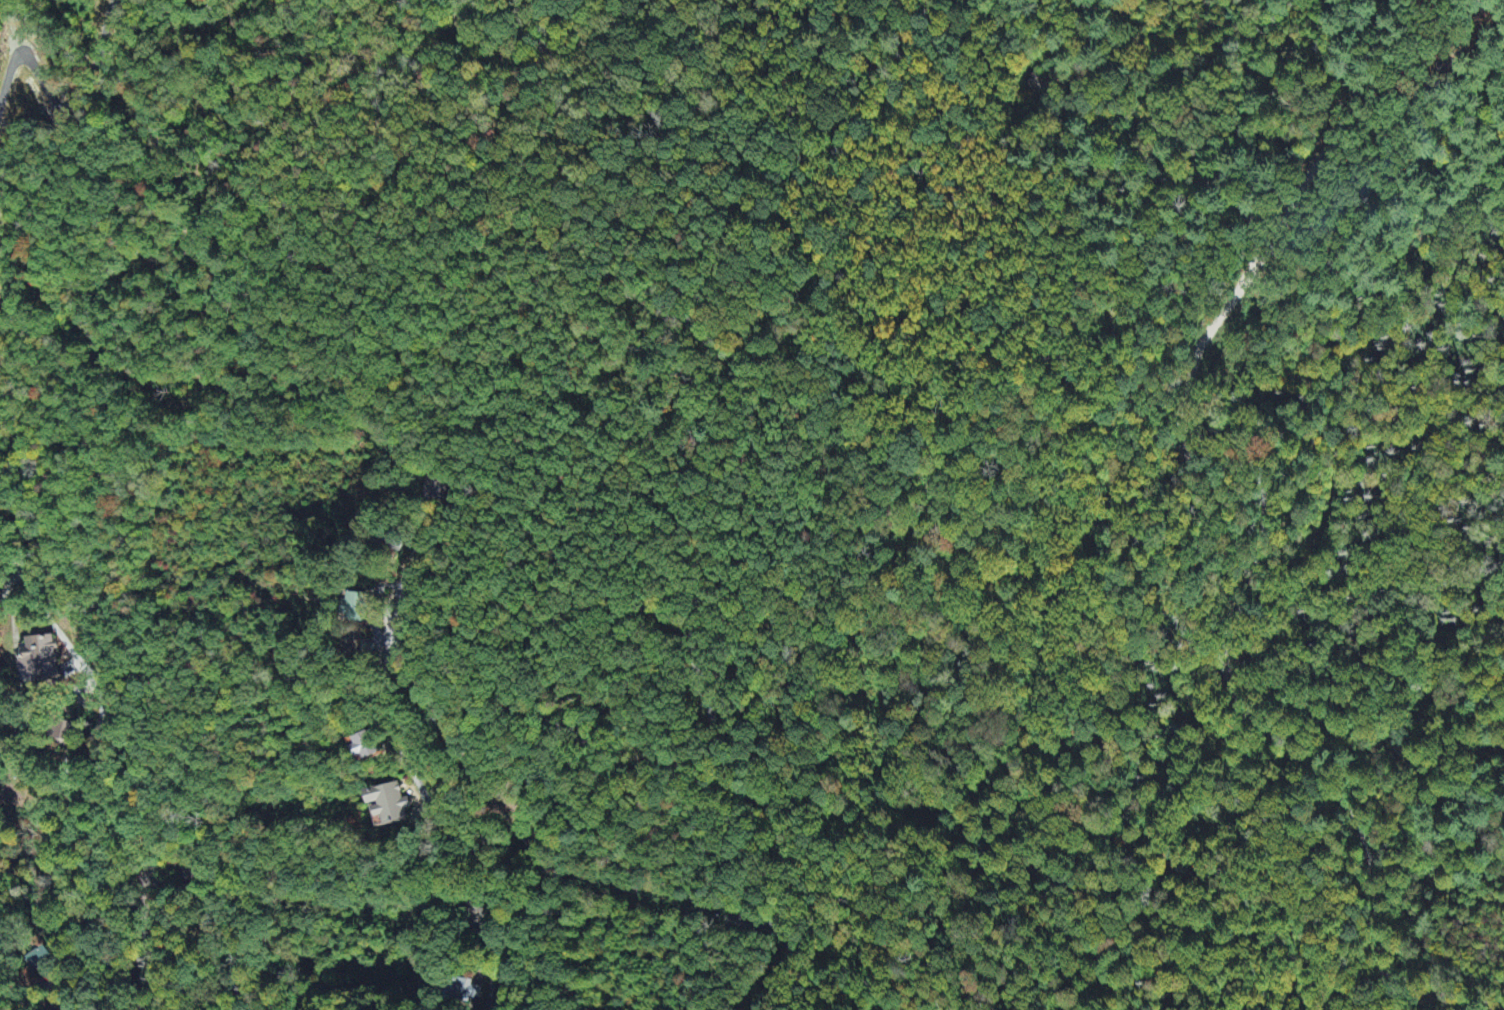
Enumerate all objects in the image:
road: (911, 1)
road: (1243, 20)
road: (1191, 48)
road: (1271, 60)
road: (526, 90)
road: (1095, 111)
road: (1330, 147)
road: (1082, 160)
building: (356, 607)
road: (559, 630)
building: (39, 659)
road: (41, 664)
road: (1226, 676)
road: (381, 690)
building: (62, 732)
building: (368, 746)
building: (392, 805)
road: (179, 926)
road: (55, 948)
building: (466, 994)

